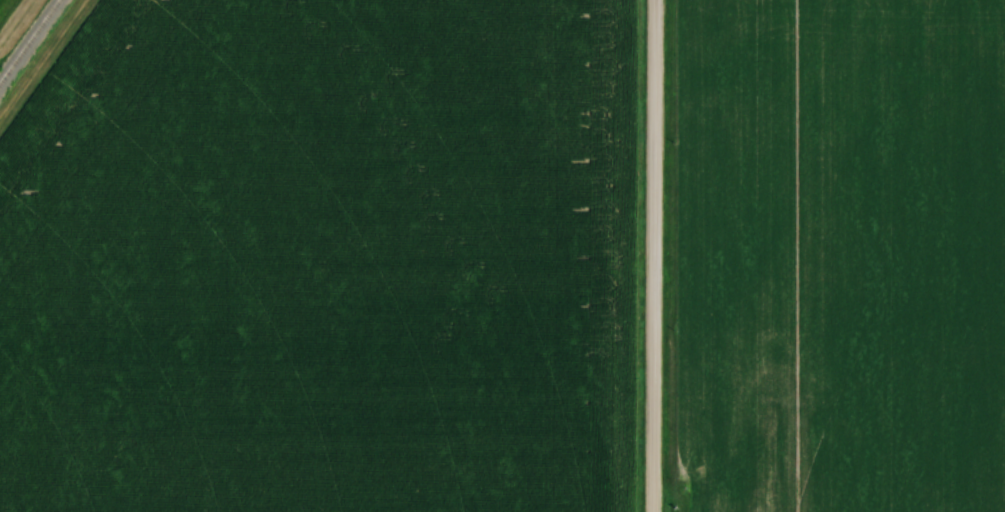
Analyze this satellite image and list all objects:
railway: (28, 39)
road: (655, 255)

